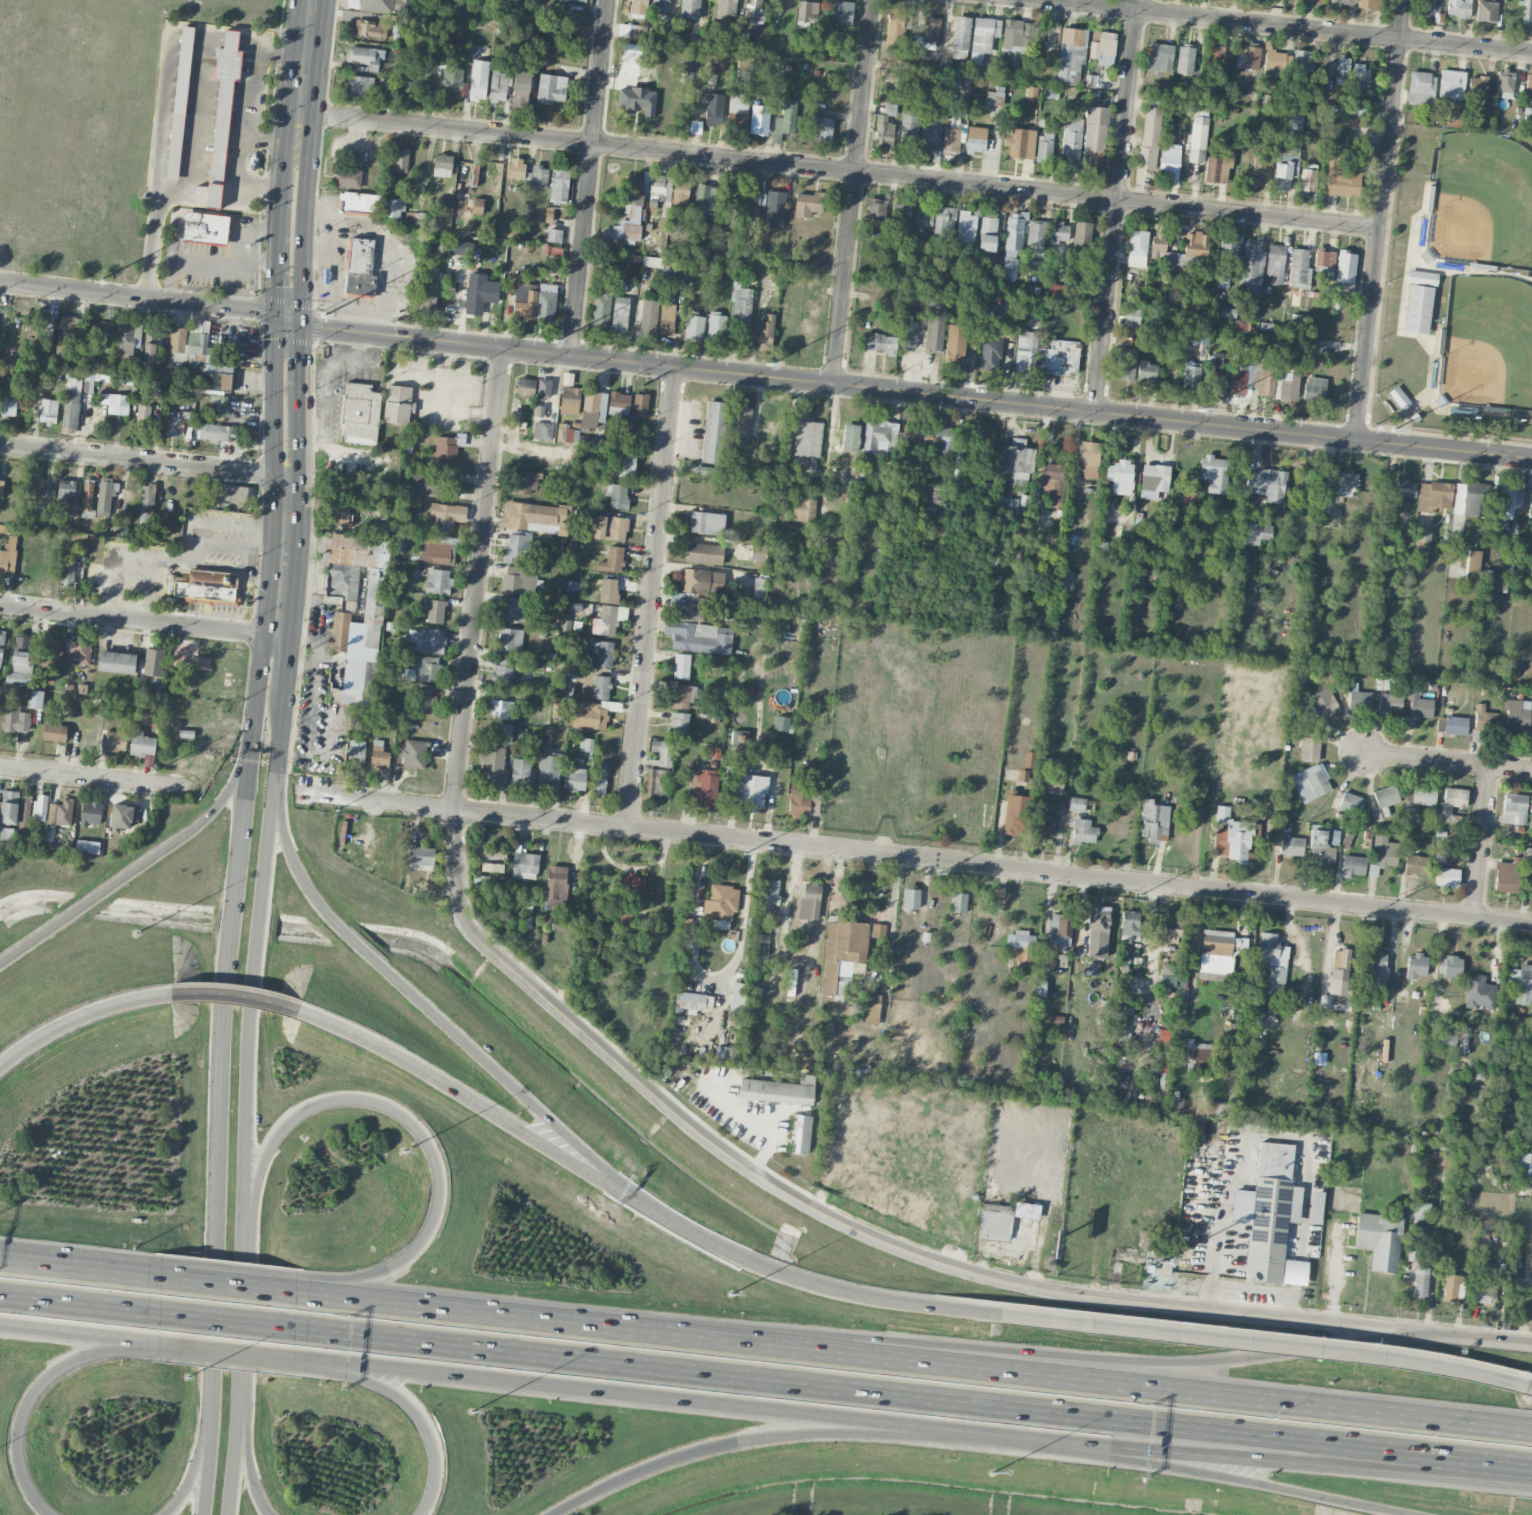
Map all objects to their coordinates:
building: (579, 0)
building: (1344, 1)
building: (402, 4)
building: (1369, 4)
building: (659, 5)
building: (376, 6)
building: (637, 6)
building: (1458, 8)
building: (690, 9)
building: (726, 9)
building: (1486, 11)
building: (1527, 11)
building: (753, 12)
building: (843, 12)
building: (807, 18)
road: (1401, 19)
road: (1283, 26)
building: (370, 28)
building: (894, 28)
building: (630, 30)
building: (928, 34)
building: (1014, 36)
building: (960, 37)
building: (983, 37)
building: (1103, 49)
building: (1071, 53)
building: (1215, 53)
building: (427, 55)
building: (366, 56)
building: (1159, 56)
building: (1247, 56)
building: (1185, 59)
building: (1302, 60)
building: (744, 61)
building: (1274, 64)
building: (691, 66)
road: (307, 70)
building: (1342, 70)
building: (1359, 77)
building: (409, 78)
building: (478, 79)
building: (521, 81)
building: (960, 81)
building: (452, 82)
building: (1477, 83)
building: (1448, 84)
building: (1505, 84)
building: (499, 85)
building: (1528, 85)
building: (360, 86)
building: (551, 88)
building: (1420, 88)
building: (1220, 93)
building: (995, 96)
building: (223, 98)
building: (637, 100)
building: (179, 102)
building: (737, 108)
road: (251, 109)
building: (1198, 109)
building: (1356, 111)
building: (714, 112)
building: (786, 118)
building: (759, 119)
building: (1453, 119)
building: (1295, 121)
building: (909, 127)
building: (1095, 128)
building: (823, 129)
building: (883, 133)
building: (931, 134)
building: (1150, 136)
road: (274, 138)
building: (951, 139)
building: (976, 139)
building: (1071, 139)
building: (1197, 139)
building: (1020, 143)
building: (1044, 147)
building: (400, 157)
building: (1169, 159)
building: (442, 165)
building: (488, 166)
building: (515, 168)
building: (1259, 168)
road: (282, 169)
building: (1216, 169)
road: (841, 171)
building: (1284, 171)
building: (539, 177)
road: (590, 177)
building: (1341, 177)
building: (348, 178)
building: (1308, 179)
building: (559, 185)
building: (658, 185)
building: (679, 192)
road: (854, 192)
building: (213, 195)
building: (706, 199)
building: (752, 200)
building: (358, 202)
building: (807, 204)
building: (466, 205)
road: (1118, 206)
building: (393, 208)
building: (774, 208)
building: (875, 209)
building: (630, 211)
building: (900, 217)
building: (923, 219)
building: (944, 222)
building: (205, 228)
road: (246, 229)
building: (966, 229)
road: (300, 230)
building: (1060, 232)
building: (553, 235)
building: (987, 235)
building: (1082, 235)
building: (1036, 238)
road: (1378, 239)
road: (387, 241)
building: (1229, 243)
building: (1013, 244)
building: (1196, 244)
building: (1158, 245)
road: (149, 246)
building: (726, 246)
building: (462, 248)
building: (1137, 248)
building: (700, 251)
road: (280, 258)
building: (651, 261)
road: (209, 263)
building: (1275, 263)
building: (1324, 263)
building: (359, 267)
building: (1249, 267)
building: (674, 268)
building: (1299, 268)
building: (1345, 271)
road: (332, 273)
power tower: (103, 280)
building: (1222, 281)
road: (139, 295)
building: (428, 295)
building: (480, 295)
building: (534, 301)
building: (740, 304)
road: (359, 307)
building: (1418, 309)
building: (601, 310)
building: (1227, 312)
power tower: (324, 314)
building: (620, 314)
traffic signals: (278, 315)
building: (649, 317)
building: (1131, 317)
building: (666, 319)
building: (1297, 322)
building: (44, 325)
building: (935, 325)
building: (694, 327)
building: (716, 328)
building: (1201, 330)
building: (765, 333)
building: (909, 334)
building: (127, 336)
building: (67, 337)
building: (154, 337)
building: (177, 339)
power tower: (556, 339)
building: (879, 342)
building: (955, 343)
road: (357, 345)
building: (1317, 345)
building: (199, 346)
building: (1025, 351)
building: (990, 354)
building: (148, 356)
building: (1060, 357)
road: (360, 362)
power tower: (771, 362)
road: (298, 363)
building: (1127, 364)
building: (1146, 370)
road: (415, 373)
road: (440, 375)
building: (1252, 375)
building: (1190, 377)
building: (215, 378)
building: (1215, 381)
building: (1288, 382)
power tower: (974, 383)
building: (525, 386)
building: (157, 387)
road: (326, 388)
building: (543, 388)
building: (1314, 389)
road: (904, 392)
building: (1399, 397)
road: (276, 399)
building: (570, 400)
road: (461, 401)
building: (640, 401)
building: (71, 403)
building: (8, 404)
building: (118, 404)
building: (220, 404)
building: (397, 404)
building: (618, 404)
power tower: (1203, 408)
building: (593, 409)
building: (48, 411)
building: (539, 411)
building: (360, 414)
building: (142, 419)
building: (175, 423)
road: (310, 426)
building: (741, 426)
power tower: (1394, 429)
building: (542, 430)
building: (216, 432)
building: (713, 432)
building: (564, 433)
building: (877, 434)
building: (914, 435)
building: (850, 437)
building: (807, 438)
building: (945, 439)
building: (981, 439)
road: (297, 445)
road: (330, 446)
building: (447, 448)
building: (1088, 458)
building: (1017, 461)
road: (143, 463)
building: (624, 465)
building: (864, 470)
building: (1213, 473)
building: (852, 474)
building: (1118, 479)
building: (1153, 480)
building: (528, 481)
building: (1053, 483)
building: (1266, 484)
building: (1346, 484)
building: (35, 485)
building: (431, 486)
building: (1400, 487)
building: (1, 488)
building: (65, 490)
building: (234, 493)
building: (941, 493)
building: (617, 495)
building: (1433, 496)
building: (105, 497)
building: (1470, 498)
building: (1507, 499)
building: (87, 500)
building: (1007, 503)
building: (1530, 505)
building: (147, 508)
building: (804, 509)
building: (446, 516)
building: (534, 518)
building: (707, 523)
building: (610, 528)
road: (245, 529)
building: (1255, 533)
road: (198, 543)
building: (1422, 543)
road: (226, 545)
building: (522, 548)
building: (436, 549)
building: (758, 551)
building: (703, 553)
building: (8, 556)
road: (282, 557)
building: (611, 560)
road: (174, 562)
road: (241, 568)
building: (1475, 568)
building: (67, 569)
road: (116, 571)
road: (479, 577)
building: (519, 579)
building: (438, 581)
building: (702, 581)
building: (204, 585)
building: (573, 586)
building: (759, 587)
building: (608, 590)
road: (147, 591)
road: (651, 597)
building: (689, 606)
building: (724, 607)
building: (512, 609)
building: (433, 610)
building: (372, 617)
road: (138, 618)
building: (608, 619)
building: (700, 637)
building: (509, 639)
building: (427, 640)
building: (1, 643)
building: (79, 652)
building: (603, 653)
building: (52, 658)
building: (20, 662)
building: (116, 662)
building: (153, 662)
road: (282, 662)
building: (681, 666)
building: (425, 668)
building: (502, 672)
building: (601, 687)
road: (255, 693)
building: (720, 695)
building: (679, 696)
building: (36, 698)
building: (426, 699)
building: (1360, 699)
building: (1322, 703)
building: (1390, 703)
building: (1418, 703)
building: (501, 709)
building: (557, 709)
building: (1516, 713)
building: (588, 716)
building: (1484, 717)
building: (14, 718)
road: (279, 723)
building: (678, 723)
building: (781, 723)
building: (1455, 725)
building: (54, 733)
building: (185, 733)
building: (506, 733)
building: (1310, 733)
building: (739, 737)
building: (115, 740)
building: (141, 743)
building: (586, 744)
building: (1309, 749)
building: (356, 751)
building: (662, 752)
building: (414, 754)
building: (379, 758)
building: (1028, 759)
road: (1447, 762)
building: (491, 763)
power tower: (154, 770)
building: (520, 771)
building: (549, 773)
building: (1022, 775)
road: (98, 776)
building: (574, 778)
building: (599, 780)
building: (1311, 782)
building: (655, 784)
building: (702, 786)
building: (752, 792)
building: (1423, 795)
building: (1384, 801)
building: (1451, 802)
building: (804, 803)
building: (1351, 803)
building: (1076, 804)
building: (9, 807)
building: (40, 807)
building: (1513, 808)
power tower: (335, 809)
building: (61, 812)
building: (1530, 812)
building: (90, 813)
building: (1016, 814)
building: (24, 815)
building: (124, 815)
building: (1044, 817)
building: (1154, 821)
power tower: (513, 828)
building: (1083, 831)
building: (6, 836)
building: (1232, 837)
road: (1482, 843)
building: (1290, 844)
building: (87, 846)
building: (1320, 848)
power tower: (746, 853)
building: (1383, 854)
building: (421, 858)
road: (912, 858)
building: (492, 859)
building: (525, 865)
building: (1352, 865)
building: (1415, 865)
building: (1528, 867)
road: (133, 871)
power tower: (939, 873)
building: (1506, 876)
building: (1446, 877)
building: (556, 886)
building: (769, 894)
power tower: (1141, 894)
building: (911, 898)
building: (621, 899)
building: (809, 901)
building: (958, 901)
building: (721, 905)
power tower: (1363, 917)
building: (1129, 925)
building: (1171, 928)
building: (1097, 931)
building: (1060, 932)
building: (1021, 944)
building: (845, 954)
building: (1217, 954)
building: (1373, 965)
building: (1416, 965)
building: (1449, 966)
building: (1272, 969)
building: (1339, 972)
road: (1433, 974)
building: (1170, 976)
building: (1522, 984)
building: (1480, 992)
road: (242, 994)
building: (737, 997)
building: (690, 1001)
building: (1324, 1001)
road: (427, 1003)
building: (1180, 1007)
building: (872, 1009)
road: (247, 1012)
road: (82, 1015)
building: (1254, 1015)
building: (1122, 1021)
building: (1164, 1035)
building: (1446, 1038)
building: (1464, 1039)
building: (724, 1053)
building: (1204, 1058)
road: (217, 1088)
building: (777, 1090)
building: (1150, 1102)
road: (483, 1104)
road: (384, 1106)
building: (1216, 1109)
road: (748, 1119)
building: (800, 1134)
road: (1245, 1147)
building: (1525, 1165)
building: (1315, 1207)
building: (1419, 1209)
road: (818, 1210)
building: (1270, 1220)
building: (995, 1221)
building: (1378, 1238)
road: (80, 1267)
road: (777, 1272)
building: (1420, 1281)
road: (228, 1284)
building: (1453, 1287)
building: (1483, 1293)
road: (321, 1295)
road: (80, 1303)
road: (228, 1319)
road: (244, 1325)
road: (79, 1335)
road: (1452, 1335)
road: (1222, 1340)
road: (226, 1353)
road: (1037, 1354)
road: (333, 1364)
road: (939, 1367)
road: (913, 1395)
road: (650, 1398)
road: (26, 1408)
road: (431, 1431)
road: (1002, 1438)
road: (734, 1445)
road: (239, 1446)
road: (248, 1448)
road: (1304, 1459)
road: (208, 1468)
road: (193, 1470)
road: (1235, 1479)

